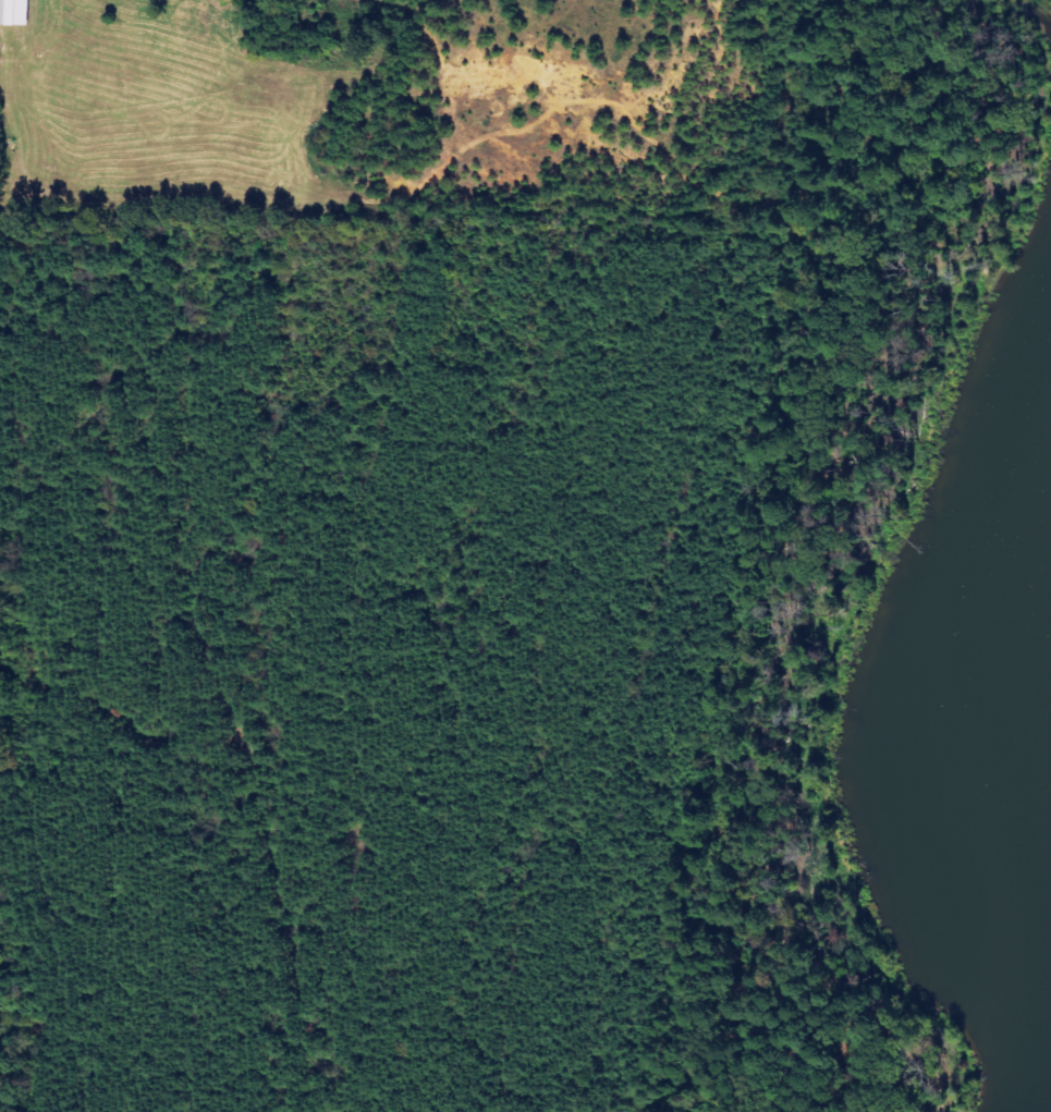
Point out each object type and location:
building: (13, 13)

